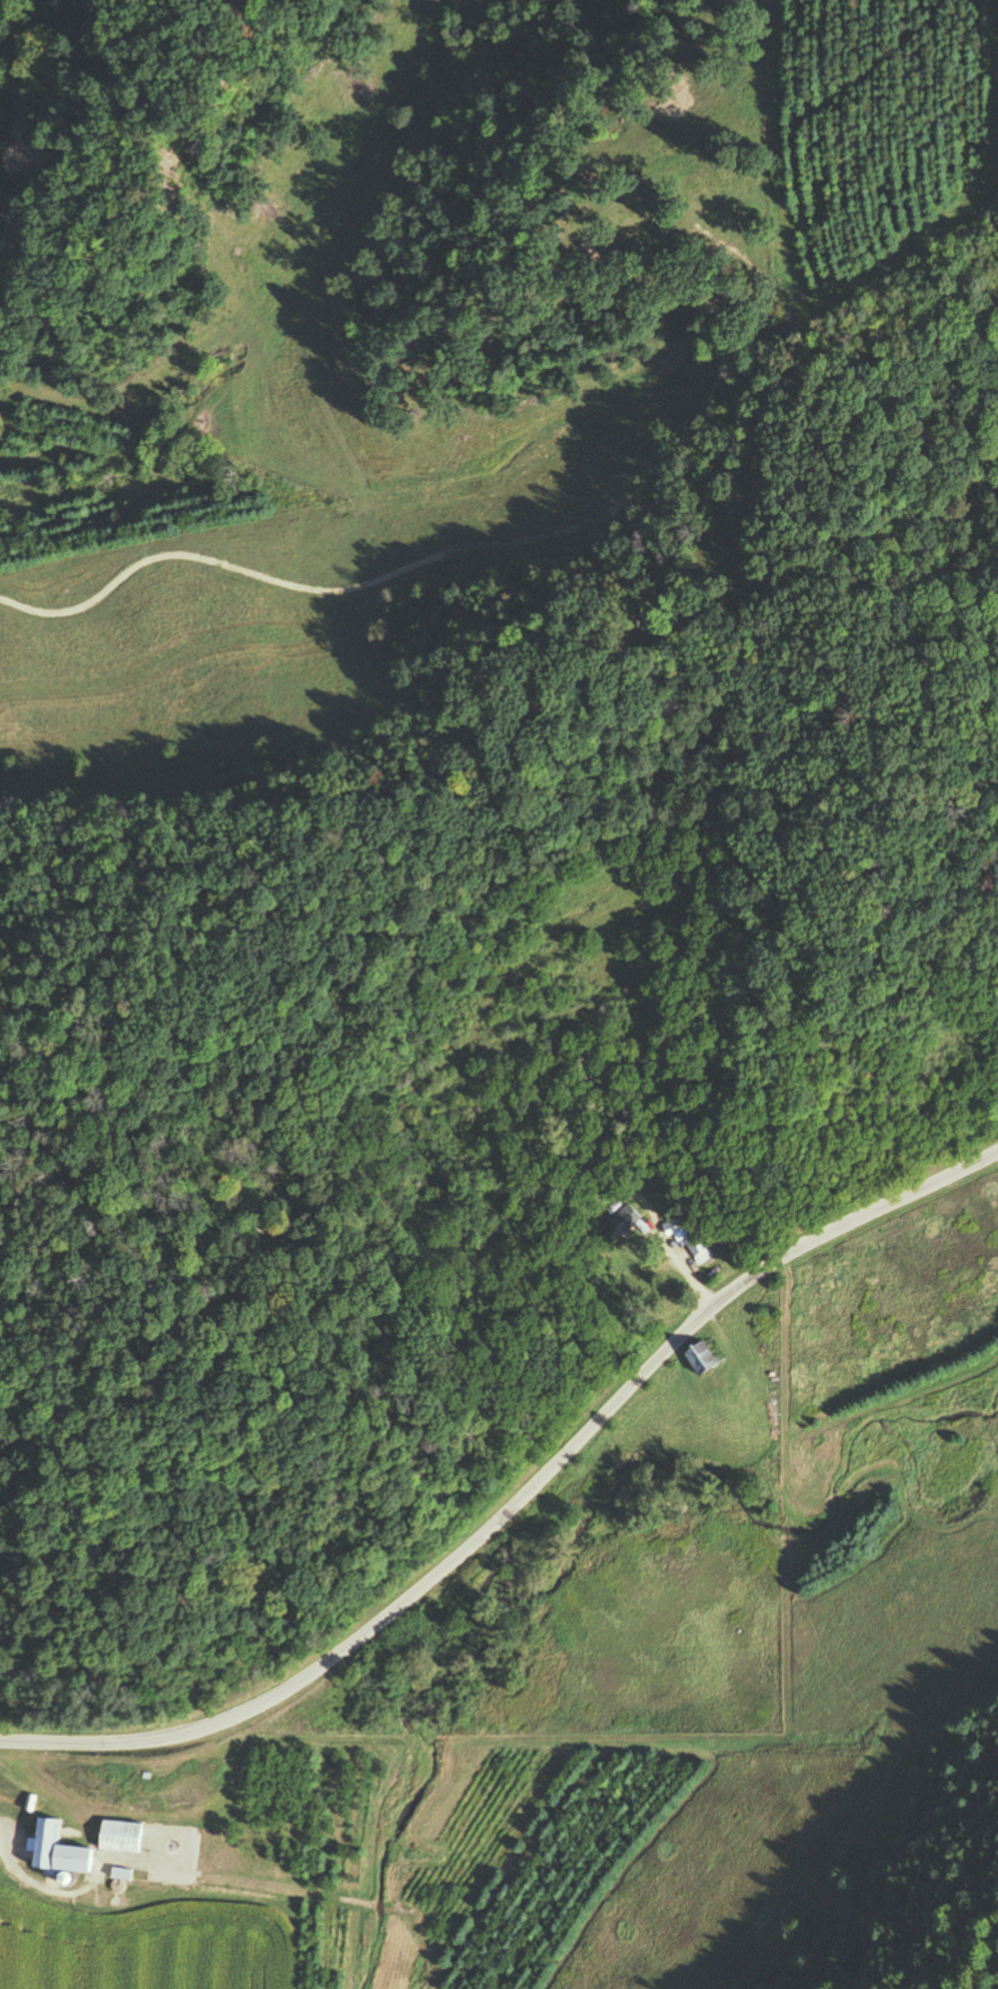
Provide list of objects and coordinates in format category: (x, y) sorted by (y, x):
building: (628, 1221)
building: (700, 1249)
building: (705, 1360)
road: (514, 1487)
building: (122, 1837)
building: (59, 1851)
building: (122, 1875)

